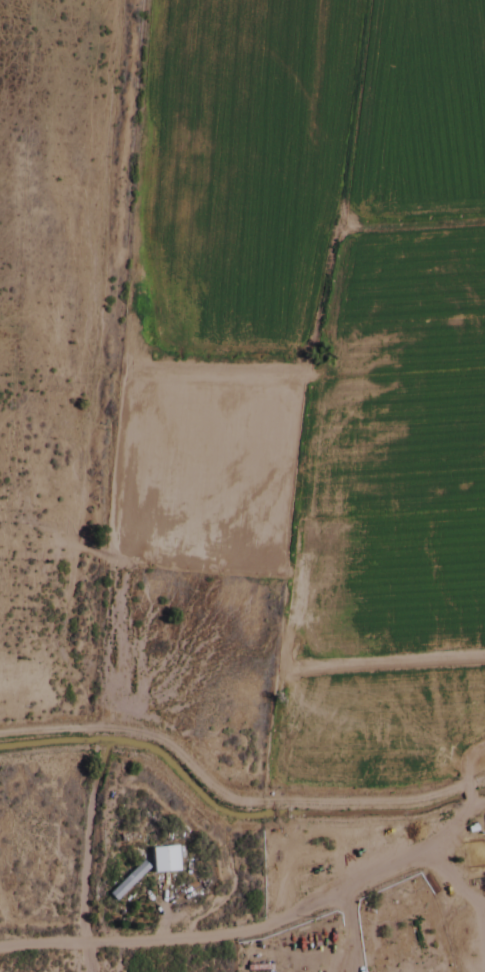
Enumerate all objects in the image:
road: (231, 804)
road: (455, 819)
building: (125, 883)
road: (228, 935)

